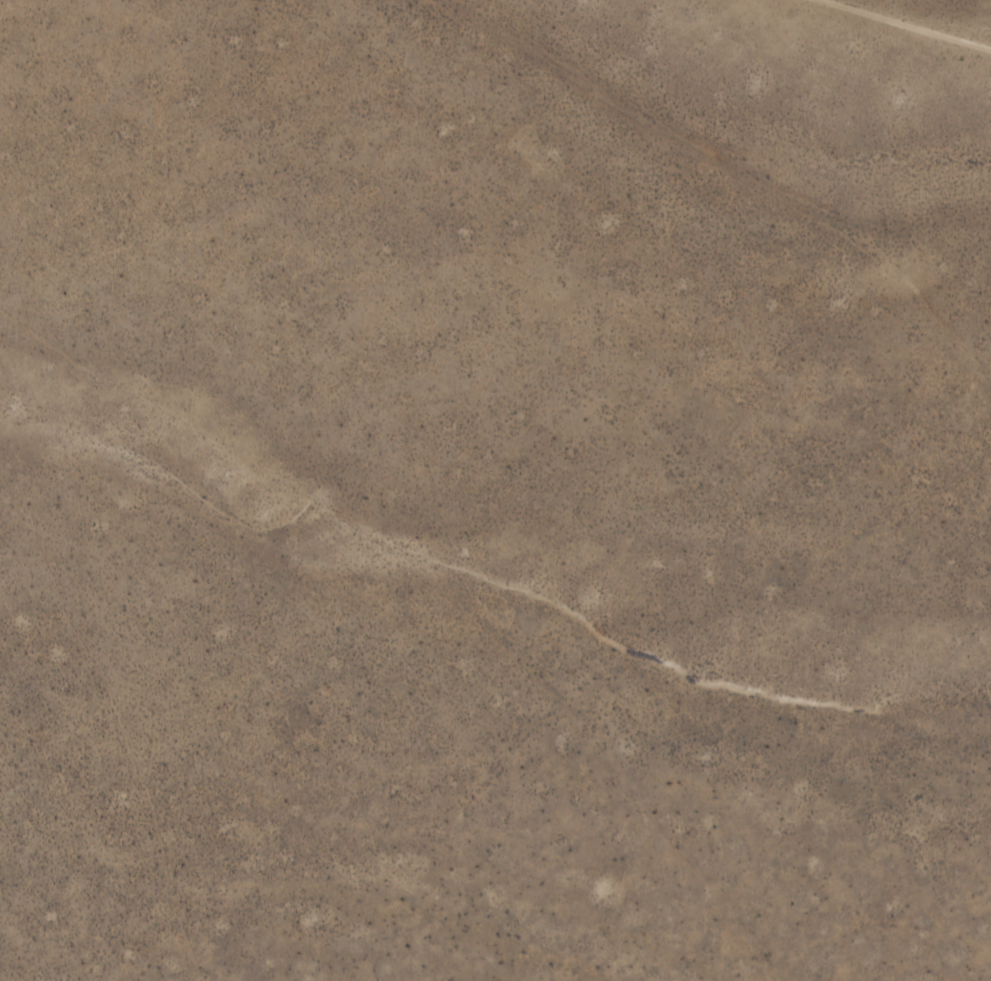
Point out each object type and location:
road: (899, 26)

